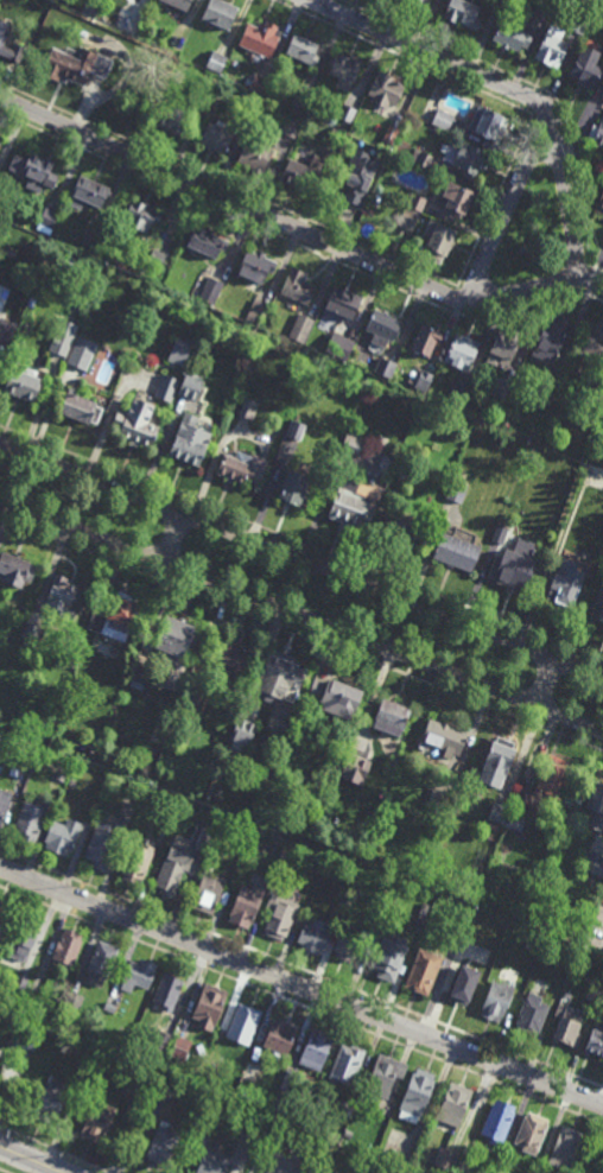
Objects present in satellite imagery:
building: (501, 0)
road: (317, 1)
building: (400, 1)
building: (414, 1)
building: (179, 4)
building: (545, 6)
building: (90, 7)
building: (463, 12)
building: (218, 13)
building: (579, 23)
building: (4, 33)
building: (513, 34)
building: (161, 36)
building: (260, 38)
building: (551, 46)
building: (303, 49)
building: (215, 61)
building: (75, 64)
building: (344, 66)
building: (586, 68)
building: (259, 83)
building: (208, 84)
building: (386, 89)
road: (510, 91)
building: (300, 101)
building: (344, 116)
building: (170, 119)
building: (443, 119)
building: (290, 125)
building: (488, 126)
building: (597, 134)
building: (336, 135)
building: (389, 135)
building: (215, 138)
building: (0, 141)
building: (254, 154)
building: (421, 158)
building: (464, 158)
building: (34, 171)
building: (301, 173)
building: (358, 177)
building: (88, 192)
building: (457, 201)
building: (415, 202)
road: (506, 205)
building: (599, 205)
building: (140, 215)
building: (407, 218)
building: (47, 221)
road: (291, 226)
building: (90, 236)
building: (437, 241)
building: (205, 242)
building: (7, 248)
building: (521, 249)
building: (157, 258)
building: (74, 264)
building: (255, 266)
road: (597, 281)
building: (297, 286)
building: (210, 291)
building: (31, 302)
building: (343, 304)
building: (256, 312)
building: (299, 328)
building: (6, 329)
building: (382, 329)
building: (551, 340)
building: (427, 341)
building: (591, 345)
building: (339, 347)
building: (502, 347)
building: (58, 350)
building: (82, 353)
building: (179, 353)
building: (461, 353)
building: (386, 367)
building: (342, 372)
building: (424, 381)
building: (24, 382)
building: (548, 386)
building: (166, 388)
building: (190, 388)
building: (590, 388)
building: (501, 389)
building: (458, 393)
building: (78, 407)
building: (248, 408)
building: (137, 425)
building: (296, 430)
building: (189, 440)
building: (353, 445)
building: (240, 467)
building: (296, 486)
building: (457, 490)
building: (595, 494)
building: (389, 495)
building: (355, 501)
building: (500, 532)
building: (404, 533)
road: (171, 538)
road: (300, 544)
building: (457, 551)
road: (301, 560)
building: (17, 568)
building: (512, 570)
building: (564, 585)
building: (64, 595)
building: (599, 597)
building: (601, 614)
building: (116, 615)
road: (300, 616)
building: (32, 628)
road: (301, 634)
building: (174, 639)
building: (231, 658)
building: (279, 674)
building: (139, 676)
road: (545, 684)
building: (193, 696)
building: (337, 697)
building: (160, 703)
building: (391, 716)
building: (171, 717)
building: (241, 731)
building: (0, 735)
building: (444, 737)
building: (88, 743)
building: (353, 759)
building: (497, 761)
building: (26, 762)
building: (61, 776)
building: (551, 778)
building: (271, 779)
building: (133, 785)
building: (596, 798)
building: (437, 799)
building: (4, 803)
building: (499, 813)
building: (31, 819)
building: (515, 819)
building: (493, 828)
building: (63, 836)
building: (161, 836)
building: (201, 838)
building: (102, 844)
building: (299, 851)
building: (280, 854)
building: (138, 862)
building: (595, 864)
building: (173, 869)
building: (204, 870)
building: (208, 894)
building: (246, 905)
building: (343, 906)
building: (383, 909)
building: (280, 915)
building: (4, 918)
building: (419, 922)
building: (455, 932)
building: (315, 936)
building: (24, 939)
building: (68, 946)
building: (347, 946)
building: (391, 958)
building: (100, 963)
building: (526, 965)
road: (301, 970)
building: (423, 972)
building: (138, 976)
building: (21, 979)
building: (464, 983)
road: (301, 984)
building: (167, 993)
building: (595, 994)
building: (496, 1001)
building: (71, 1003)
road: (301, 1004)
building: (208, 1007)
building: (109, 1008)
building: (531, 1015)
building: (243, 1022)
building: (569, 1025)
building: (18, 1036)
building: (280, 1036)
building: (161, 1041)
building: (596, 1041)
building: (179, 1050)
building: (316, 1051)
building: (347, 1065)
building: (209, 1072)
building: (252, 1072)
building: (385, 1077)
building: (286, 1080)
building: (138, 1088)
building: (165, 1090)
building: (417, 1096)
building: (51, 1101)
building: (455, 1105)
building: (275, 1108)
building: (345, 1108)
building: (253, 1122)
building: (97, 1123)
building: (497, 1123)
building: (531, 1134)
building: (160, 1146)
road: (53, 1149)
building: (565, 1149)
parking lot: (292, 1154)
road: (286, 1158)
building: (446, 1159)
road: (28, 1160)
building: (461, 1162)
building: (212, 1164)
road: (2, 1171)
road: (322, 1171)
building: (496, 1171)

